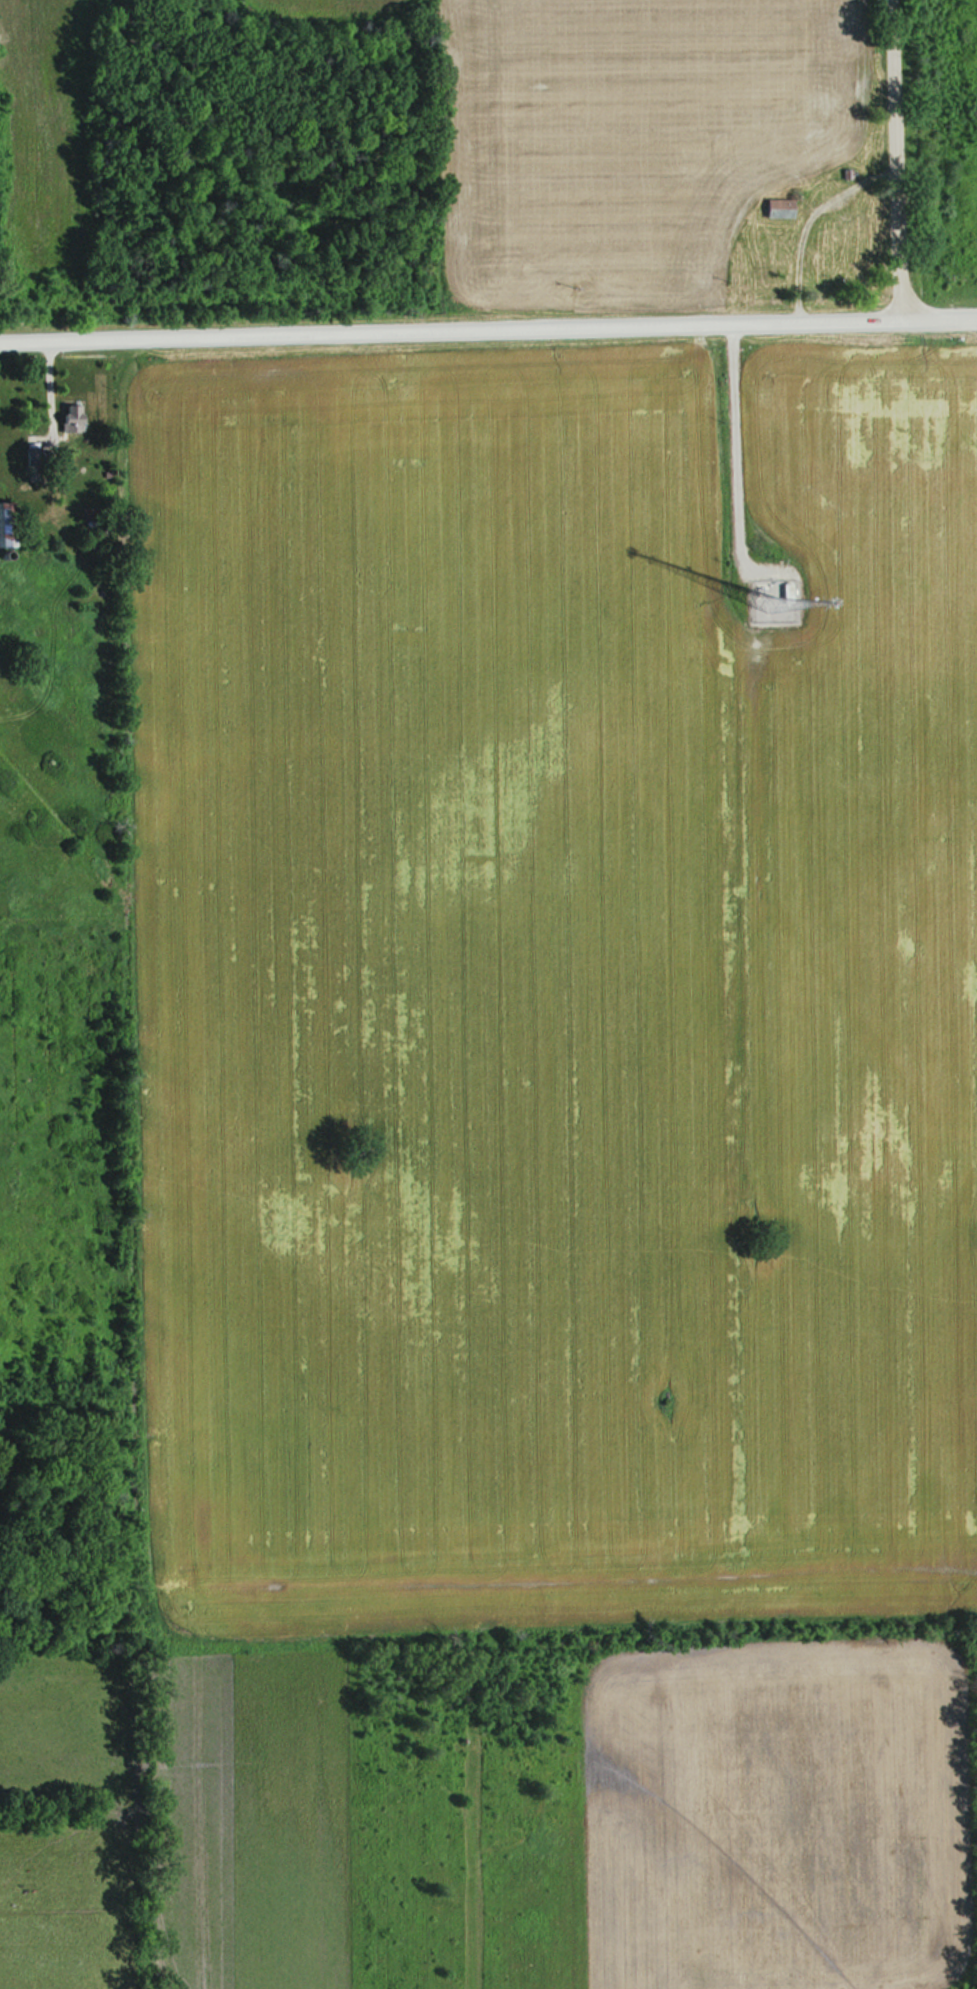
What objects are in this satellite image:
building: (759, 108)
road: (894, 159)
road: (488, 332)
building: (67, 416)
road: (740, 463)
building: (4, 522)

